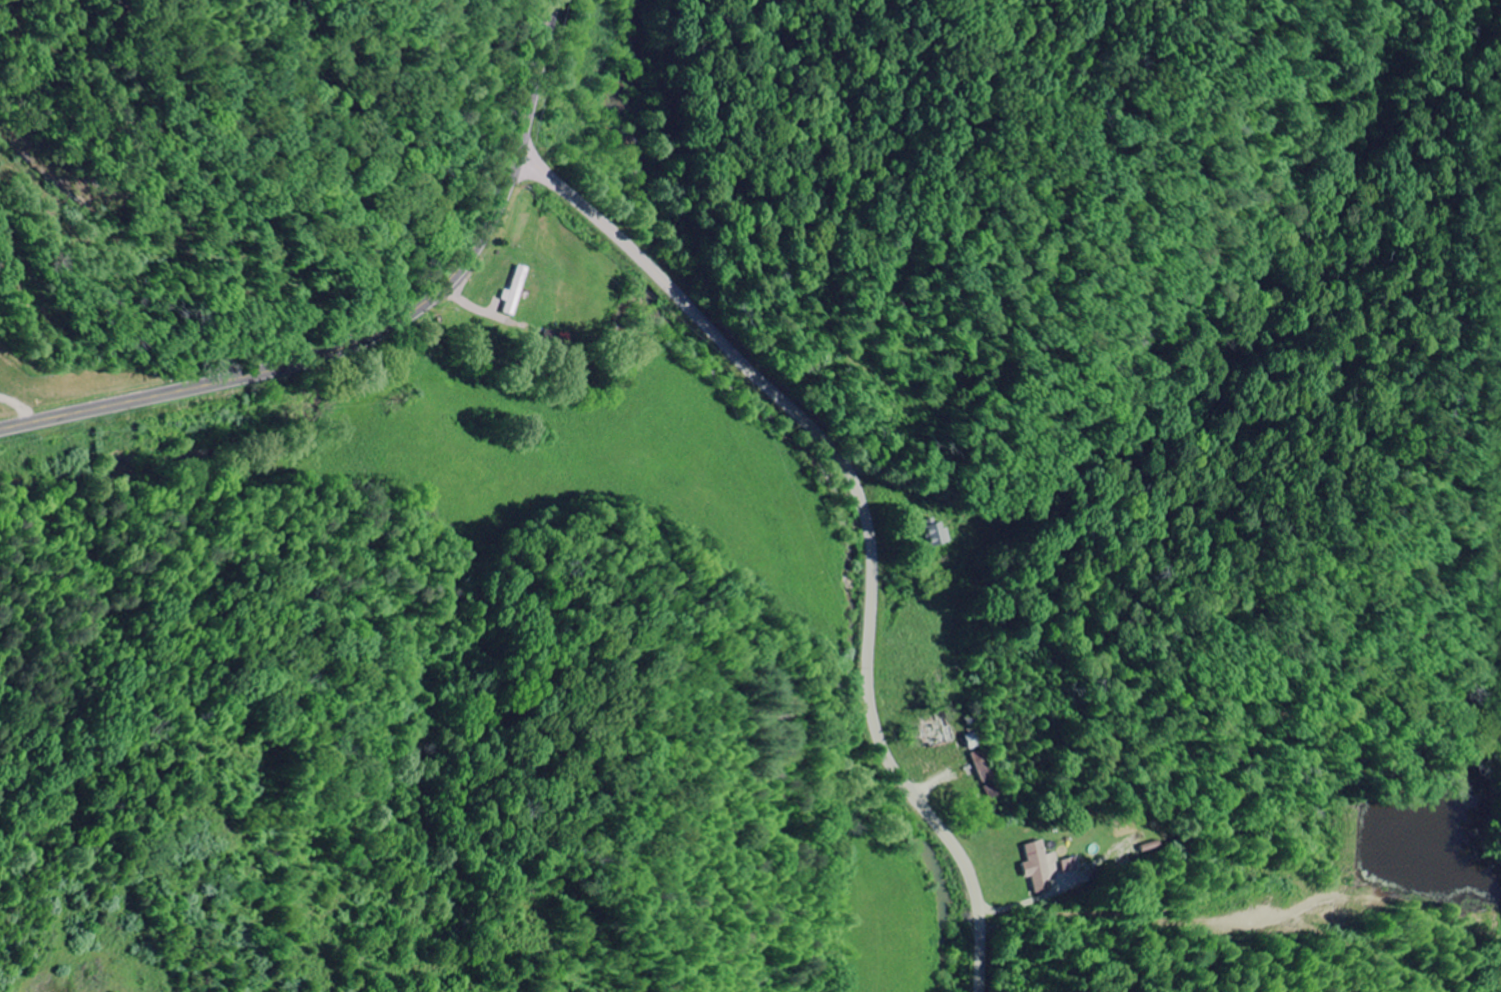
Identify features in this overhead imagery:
road: (689, 149)
building: (517, 291)
road: (379, 332)
road: (867, 511)
building: (932, 533)
building: (982, 766)
building: (1038, 867)
building: (1068, 873)

